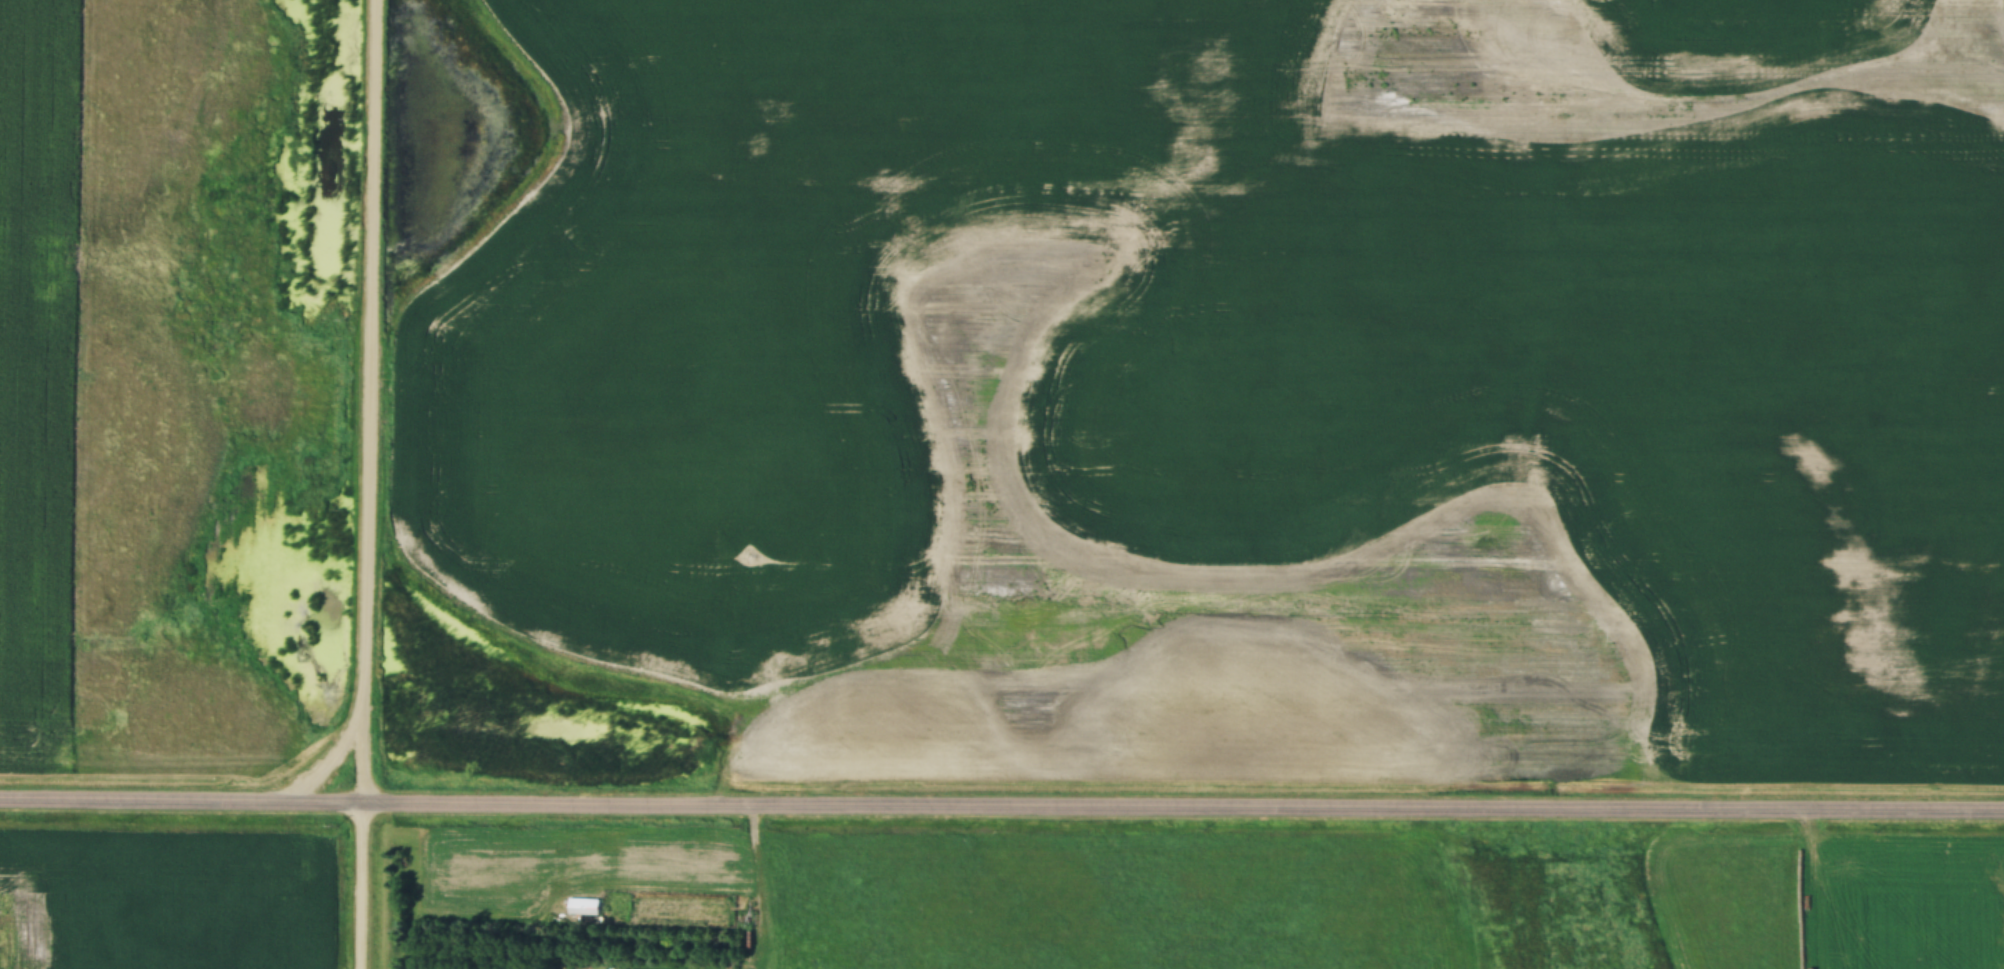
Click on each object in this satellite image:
road: (365, 484)
road: (328, 764)
road: (1001, 808)
building: (583, 907)

